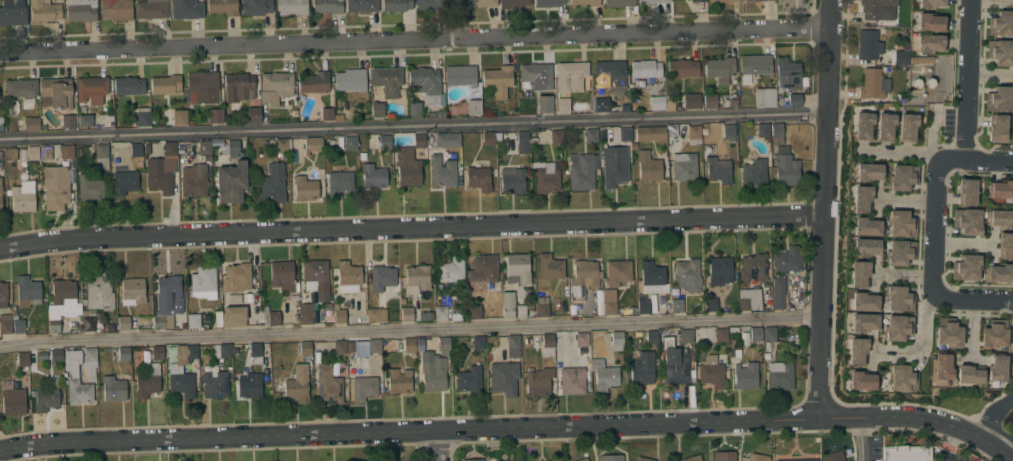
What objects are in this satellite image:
building: (757, 0)
building: (653, 1)
building: (699, 1)
building: (723, 1)
building: (584, 2)
building: (480, 3)
building: (547, 3)
building: (513, 4)
building: (621, 4)
building: (931, 4)
building: (396, 5)
building: (431, 5)
building: (326, 6)
building: (361, 6)
building: (222, 7)
building: (256, 7)
building: (291, 7)
building: (151, 9)
building: (186, 9)
building: (875, 9)
building: (44, 10)
building: (81, 10)
building: (116, 10)
building: (12, 13)
road: (454, 20)
building: (930, 23)
building: (1001, 24)
road: (418, 41)
building: (930, 43)
building: (869, 46)
building: (1000, 52)
building: (899, 58)
building: (920, 60)
building: (755, 65)
building: (682, 69)
building: (719, 69)
building: (610, 73)
building: (787, 73)
building: (645, 74)
building: (460, 76)
building: (570, 76)
building: (536, 77)
building: (350, 80)
building: (387, 81)
building: (498, 81)
road: (969, 81)
building: (313, 83)
building: (426, 84)
building: (165, 85)
building: (239, 85)
building: (873, 85)
building: (128, 86)
building: (275, 87)
building: (202, 88)
building: (20, 89)
building: (91, 90)
building: (55, 93)
building: (764, 98)
building: (999, 99)
building: (794, 100)
building: (657, 101)
building: (691, 101)
building: (709, 101)
building: (544, 104)
building: (563, 105)
building: (600, 105)
building: (474, 107)
building: (414, 109)
building: (377, 110)
building: (326, 114)
building: (253, 115)
building: (215, 116)
building: (142, 117)
building: (179, 117)
building: (68, 121)
building: (85, 121)
building: (1, 123)
building: (31, 124)
road: (416, 125)
building: (862, 126)
building: (885, 127)
building: (907, 127)
building: (997, 128)
building: (671, 130)
building: (763, 130)
building: (728, 131)
building: (625, 134)
building: (650, 134)
building: (776, 134)
building: (590, 135)
building: (693, 135)
building: (556, 137)
building: (490, 139)
building: (447, 140)
building: (531, 140)
building: (418, 141)
building: (384, 142)
building: (521, 142)
building: (350, 143)
building: (282, 145)
building: (312, 145)
building: (204, 148)
building: (232, 148)
building: (135, 150)
building: (66, 152)
building: (32, 153)
building: (44, 153)
road: (904, 153)
building: (10, 155)
building: (101, 157)
building: (614, 166)
building: (683, 166)
building: (407, 167)
building: (648, 167)
building: (785, 168)
building: (162, 170)
building: (718, 170)
building: (581, 171)
building: (442, 172)
building: (869, 172)
building: (754, 173)
building: (373, 177)
building: (545, 177)
building: (902, 177)
building: (478, 179)
building: (195, 181)
building: (512, 181)
building: (124, 183)
building: (230, 183)
building: (338, 183)
building: (272, 185)
building: (55, 187)
building: (89, 188)
building: (304, 189)
building: (1000, 190)
building: (966, 192)
building: (0, 195)
building: (22, 197)
building: (861, 199)
road: (936, 203)
road: (828, 210)
building: (1000, 219)
building: (968, 222)
building: (901, 224)
building: (868, 227)
road: (413, 231)
building: (1005, 246)
building: (866, 247)
building: (900, 253)
building: (789, 259)
building: (549, 267)
building: (753, 267)
building: (966, 268)
building: (517, 269)
building: (451, 271)
building: (719, 271)
building: (617, 273)
building: (999, 273)
building: (481, 274)
building: (859, 274)
building: (237, 277)
building: (282, 277)
building: (348, 278)
building: (381, 278)
building: (316, 279)
building: (417, 279)
building: (652, 279)
building: (203, 283)
building: (683, 283)
building: (582, 284)
building: (132, 291)
building: (27, 292)
building: (777, 292)
building: (99, 293)
building: (3, 294)
building: (749, 299)
building: (898, 299)
building: (167, 301)
road: (984, 302)
building: (865, 303)
building: (64, 304)
building: (507, 304)
building: (642, 305)
building: (710, 305)
building: (541, 307)
building: (609, 308)
building: (328, 312)
building: (474, 312)
building: (520, 312)
building: (440, 313)
building: (305, 314)
building: (406, 314)
building: (338, 315)
building: (373, 315)
building: (233, 316)
building: (270, 317)
building: (363, 319)
building: (193, 321)
building: (123, 323)
building: (864, 323)
building: (5, 324)
building: (88, 324)
building: (17, 325)
road: (410, 327)
building: (897, 328)
building: (768, 333)
building: (948, 333)
building: (755, 334)
building: (994, 334)
building: (720, 335)
building: (686, 336)
building: (651, 337)
building: (581, 339)
building: (618, 341)
road: (921, 342)
building: (478, 343)
building: (547, 345)
building: (370, 346)
building: (409, 346)
building: (443, 346)
building: (339, 347)
building: (512, 347)
building: (304, 348)
building: (349, 348)
building: (222, 351)
building: (857, 352)
building: (157, 353)
building: (123, 354)
building: (254, 354)
building: (56, 356)
building: (23, 361)
building: (72, 362)
building: (674, 362)
building: (90, 363)
building: (943, 366)
building: (642, 368)
building: (997, 368)
building: (183, 371)
building: (432, 372)
building: (711, 372)
building: (969, 374)
building: (603, 375)
building: (745, 376)
building: (780, 376)
building: (902, 378)
building: (469, 379)
building: (504, 379)
building: (146, 380)
building: (398, 381)
building: (572, 381)
building: (862, 381)
building: (215, 382)
building: (537, 382)
building: (297, 385)
building: (249, 386)
building: (329, 386)
building: (364, 388)
building: (113, 389)
building: (79, 392)
building: (46, 395)
building: (12, 400)
road: (996, 419)
road: (511, 429)
road: (861, 439)
road: (946, 442)
road: (439, 446)
building: (906, 453)
road: (1011, 455)
building: (724, 456)
building: (833, 456)
building: (757, 457)
building: (611, 458)
building: (692, 458)
building: (642, 459)
building: (473, 460)
building: (582, 460)
building: (800, 460)

